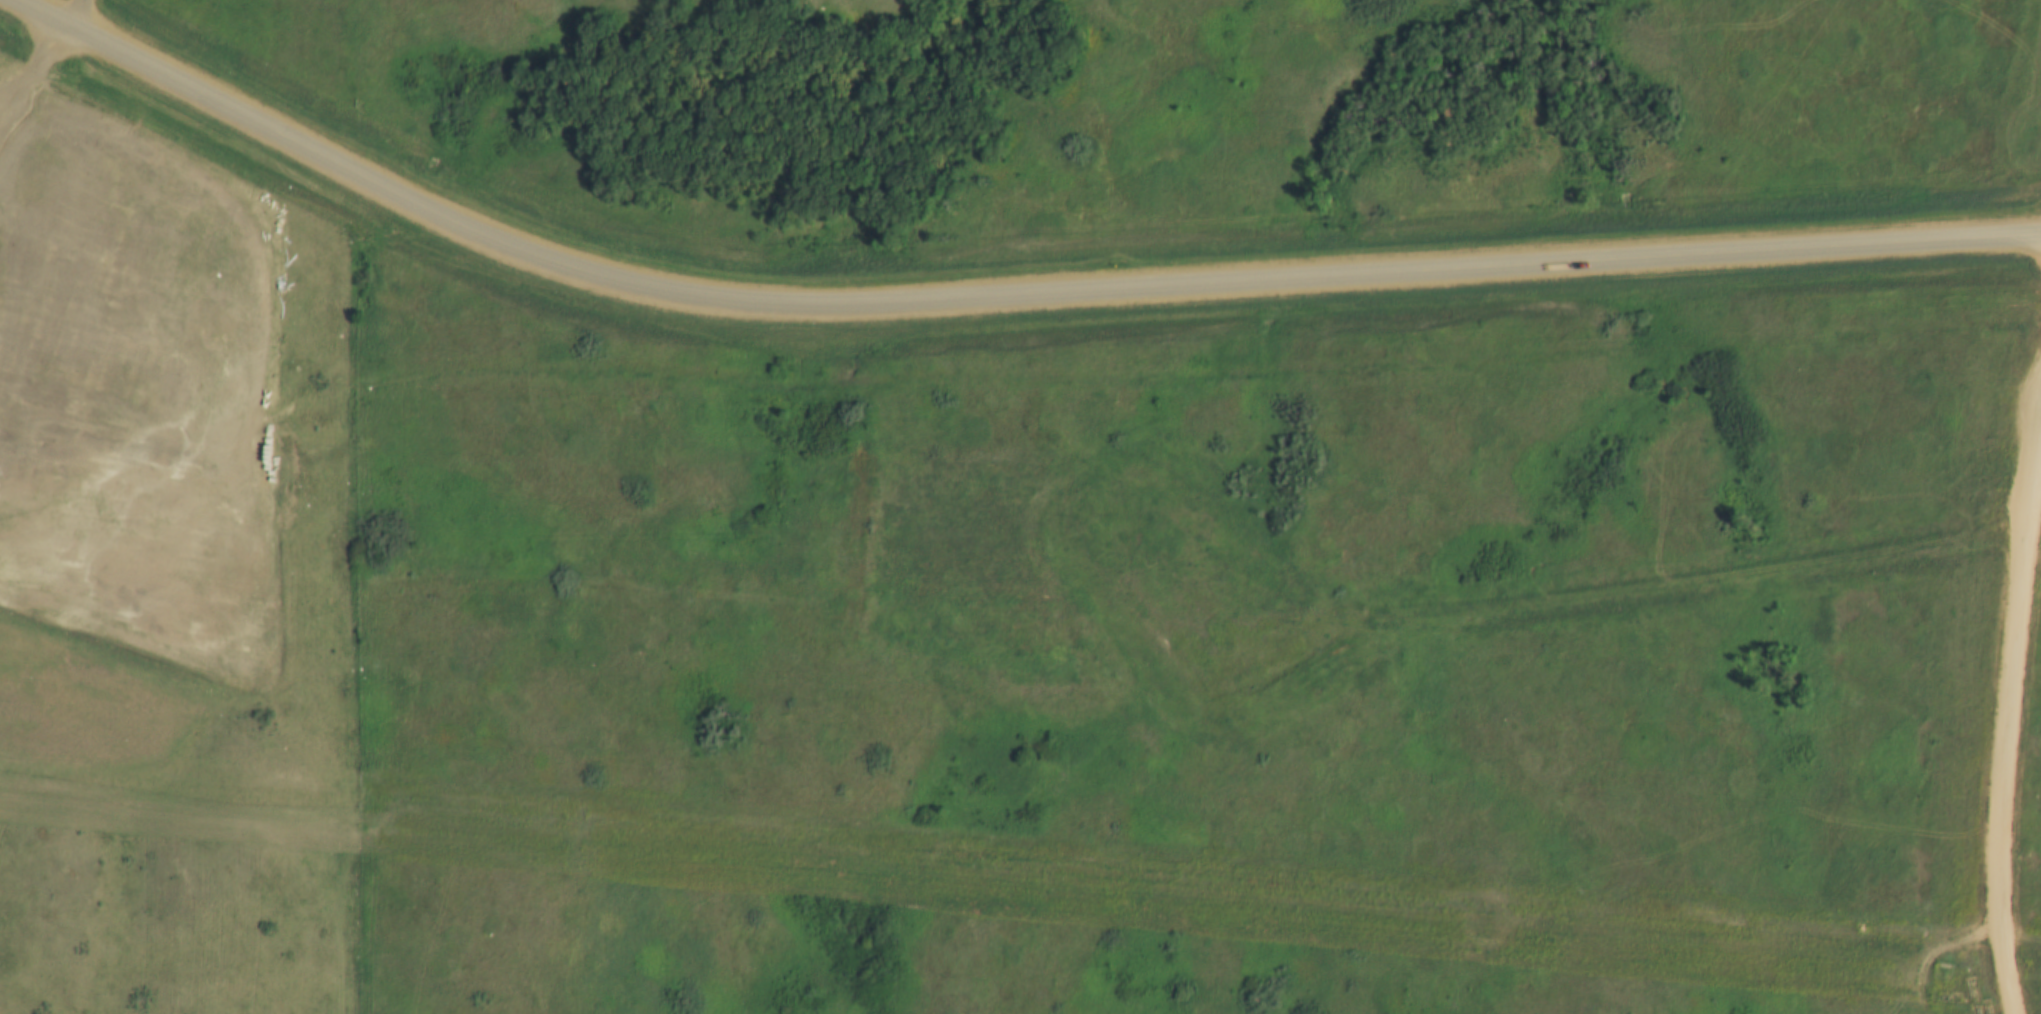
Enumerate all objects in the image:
road: (82, 14)
road: (997, 294)
road: (2006, 720)

